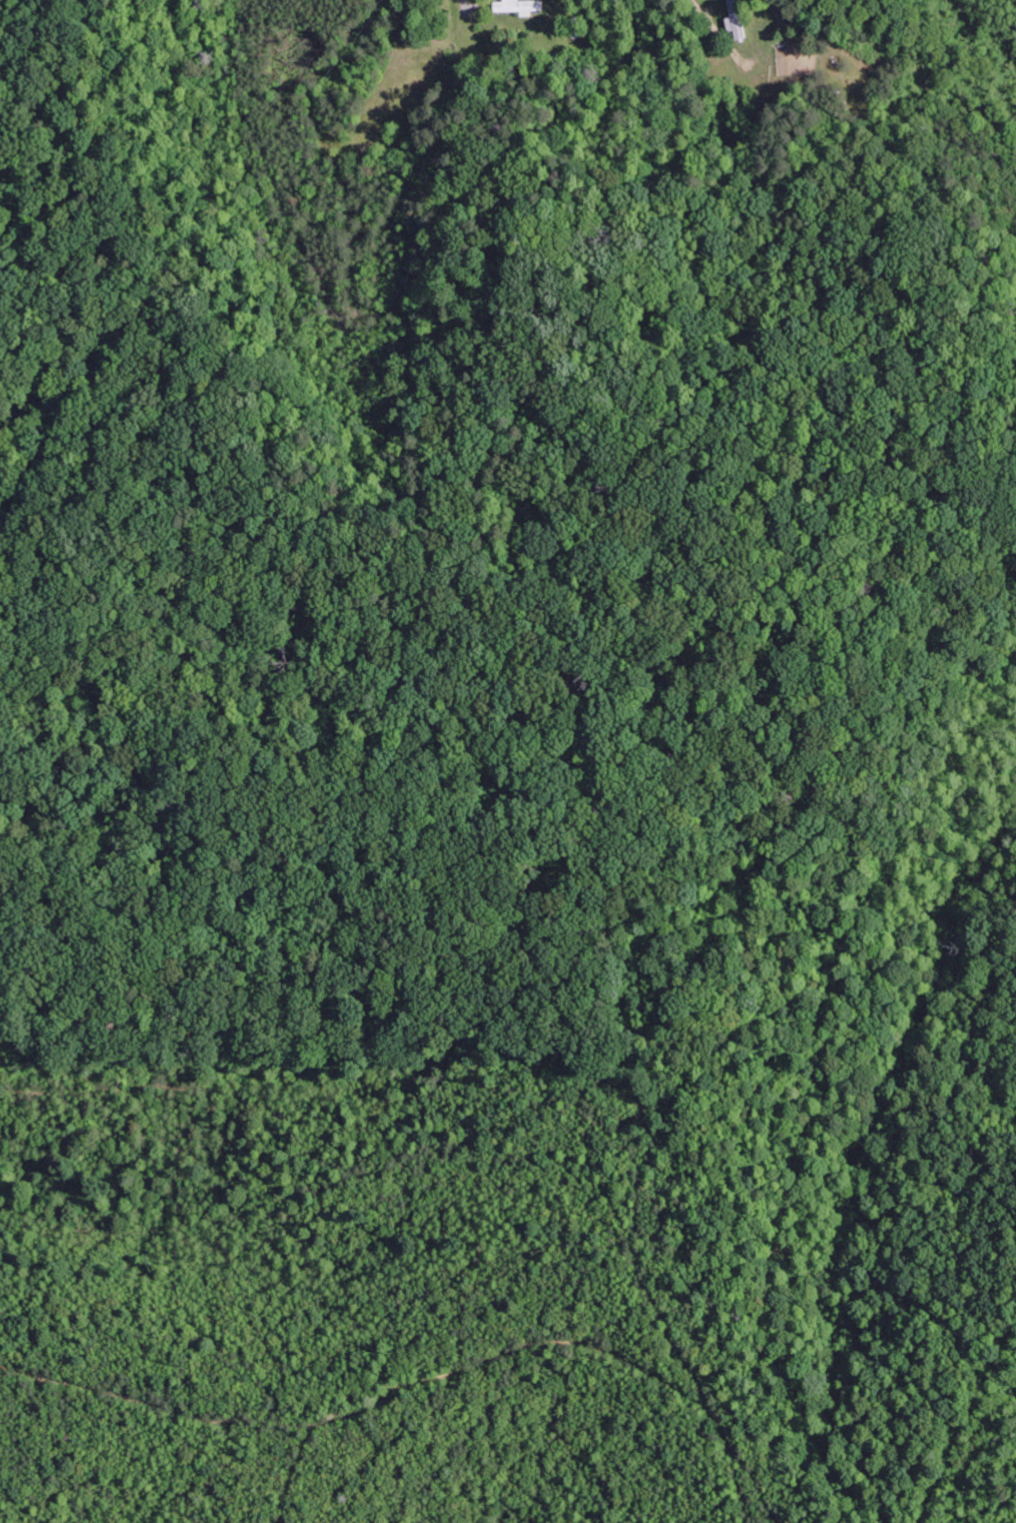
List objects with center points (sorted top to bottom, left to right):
building: (524, 6)

